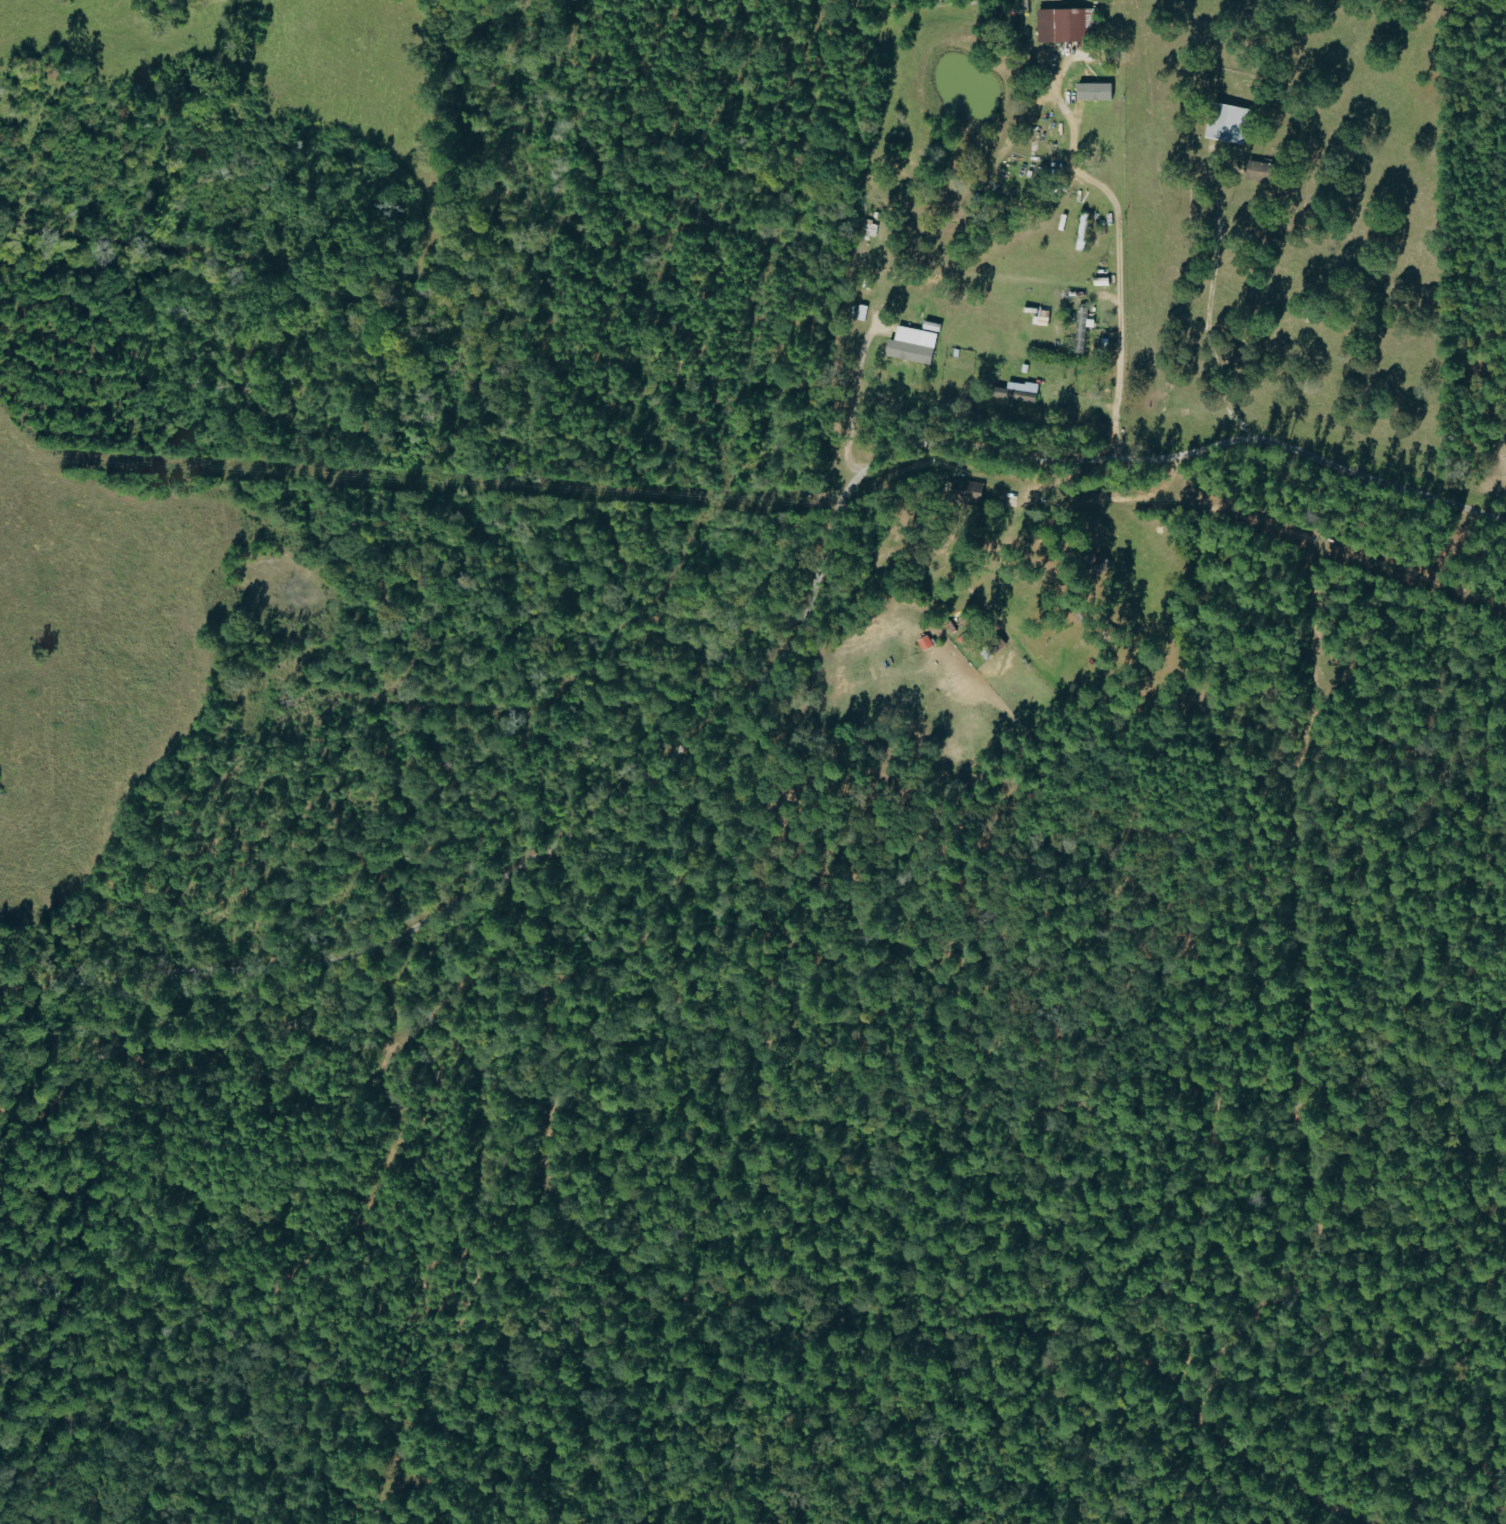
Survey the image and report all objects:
building: (1066, 24)
building: (1091, 86)
building: (1232, 123)
building: (1260, 171)
road: (1119, 288)
road: (1212, 311)
building: (933, 327)
building: (1082, 329)
building: (914, 345)
building: (1020, 391)
road: (851, 397)
building: (971, 490)
building: (926, 643)
road: (772, 648)

